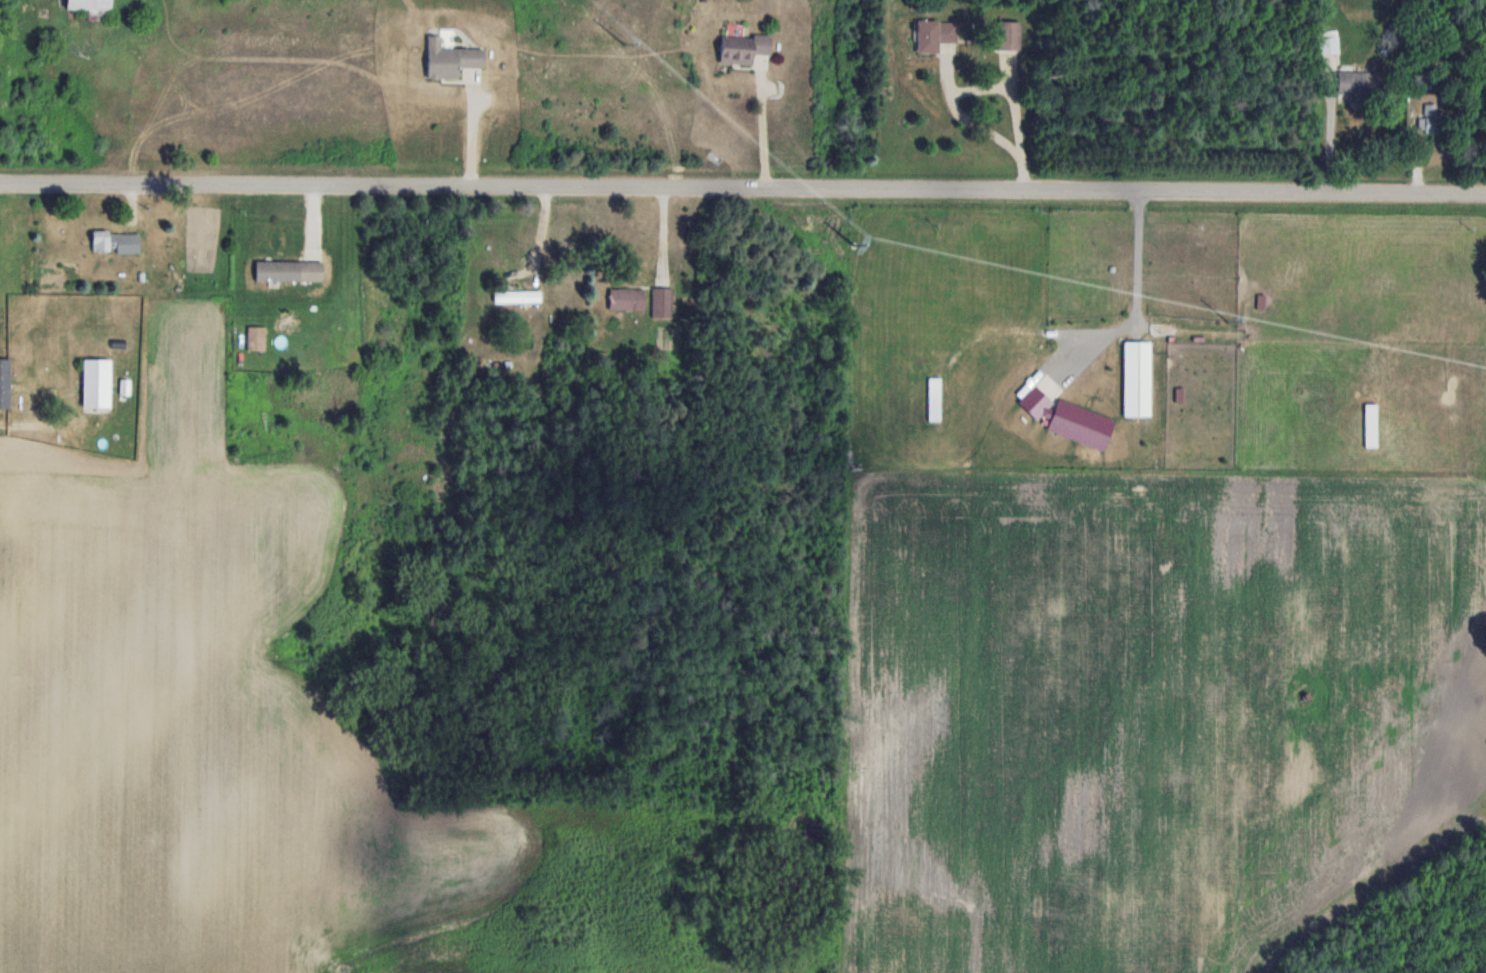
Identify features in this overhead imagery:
building: (88, 4)
building: (935, 33)
building: (1009, 33)
building: (1329, 41)
power tower: (624, 42)
building: (743, 47)
building: (450, 58)
building: (1356, 81)
building: (1429, 118)
road: (471, 131)
road: (742, 189)
building: (116, 241)
power tower: (857, 245)
building: (289, 270)
building: (517, 295)
building: (627, 298)
building: (662, 301)
power tower: (1231, 320)
building: (256, 337)
building: (1137, 378)
building: (96, 381)
building: (4, 382)
building: (934, 398)
building: (1370, 424)

